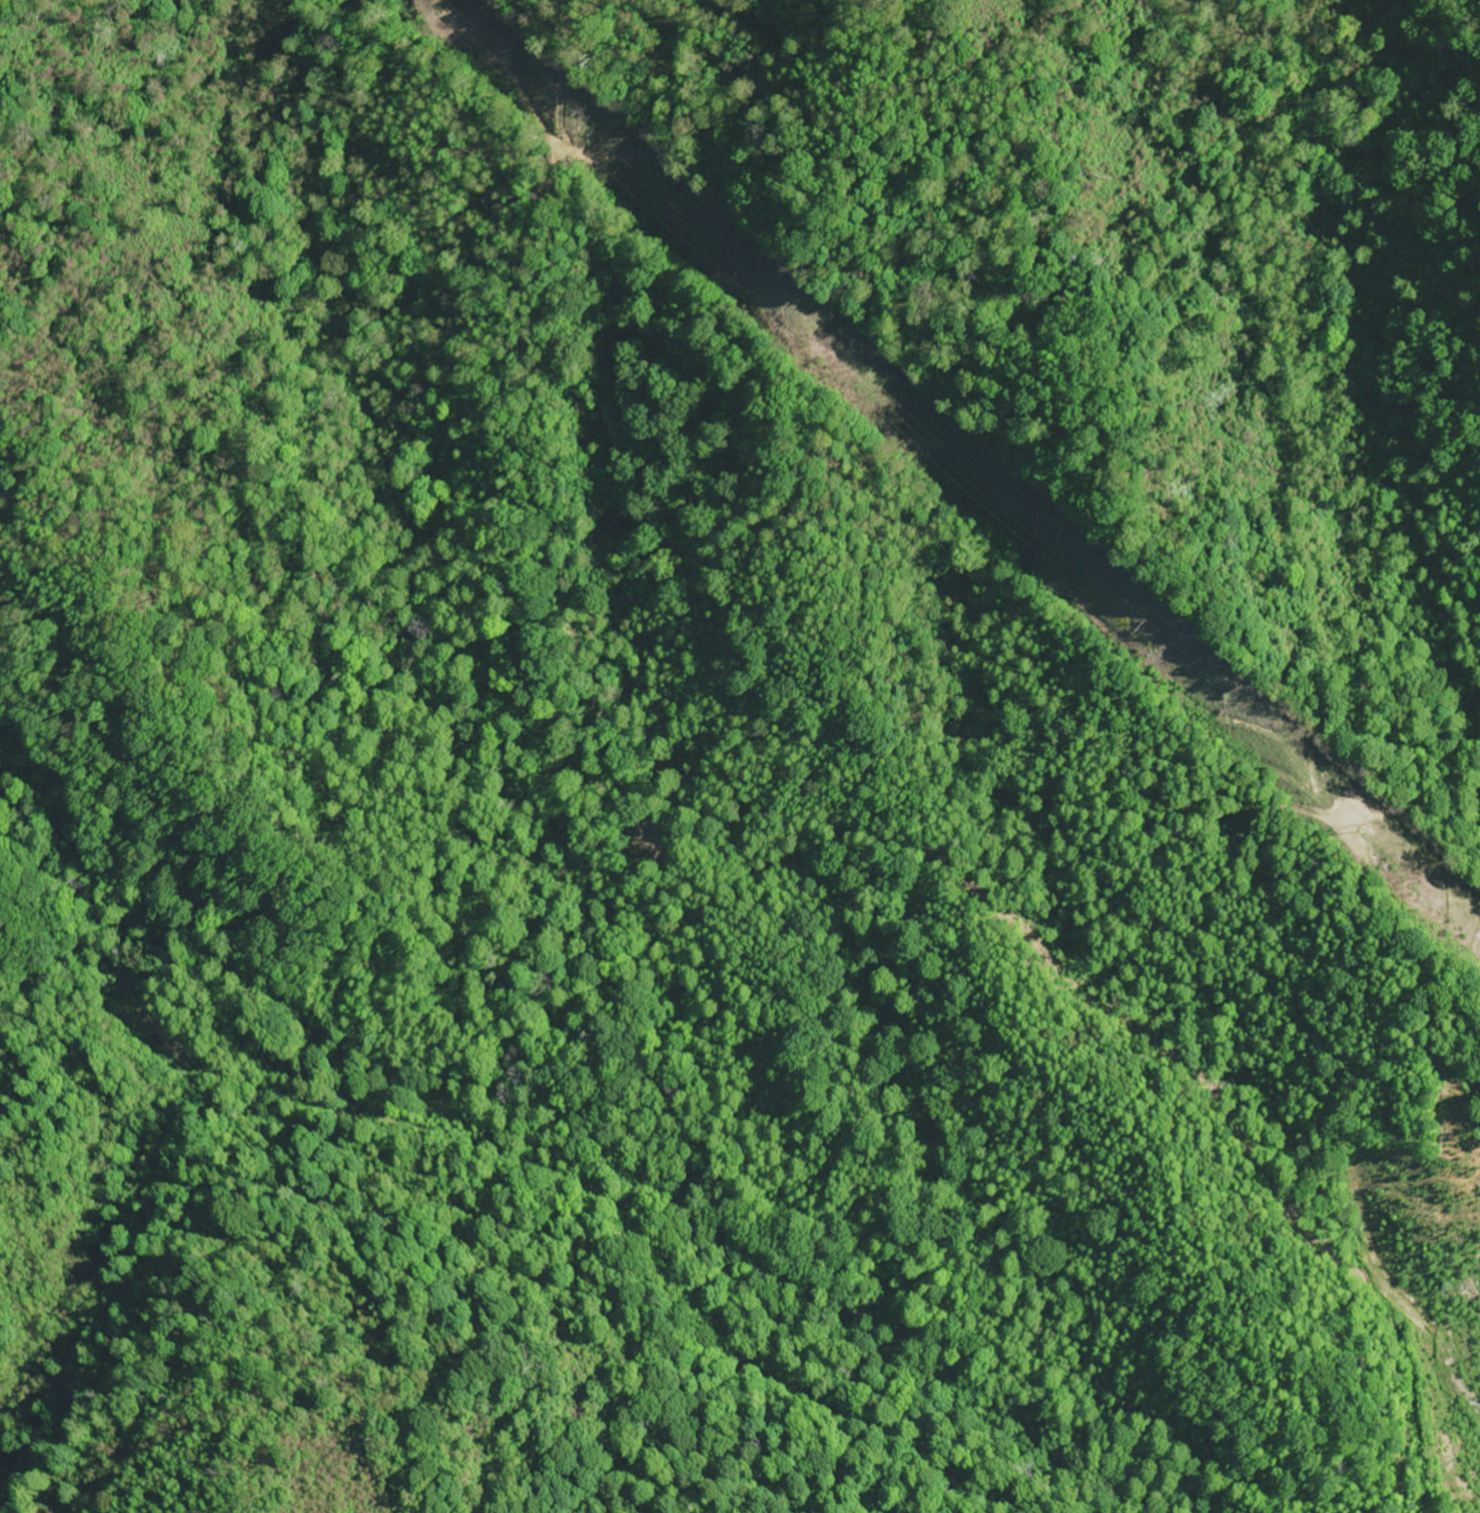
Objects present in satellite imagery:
power tower: (1140, 628)
road: (1309, 786)
road: (648, 830)

